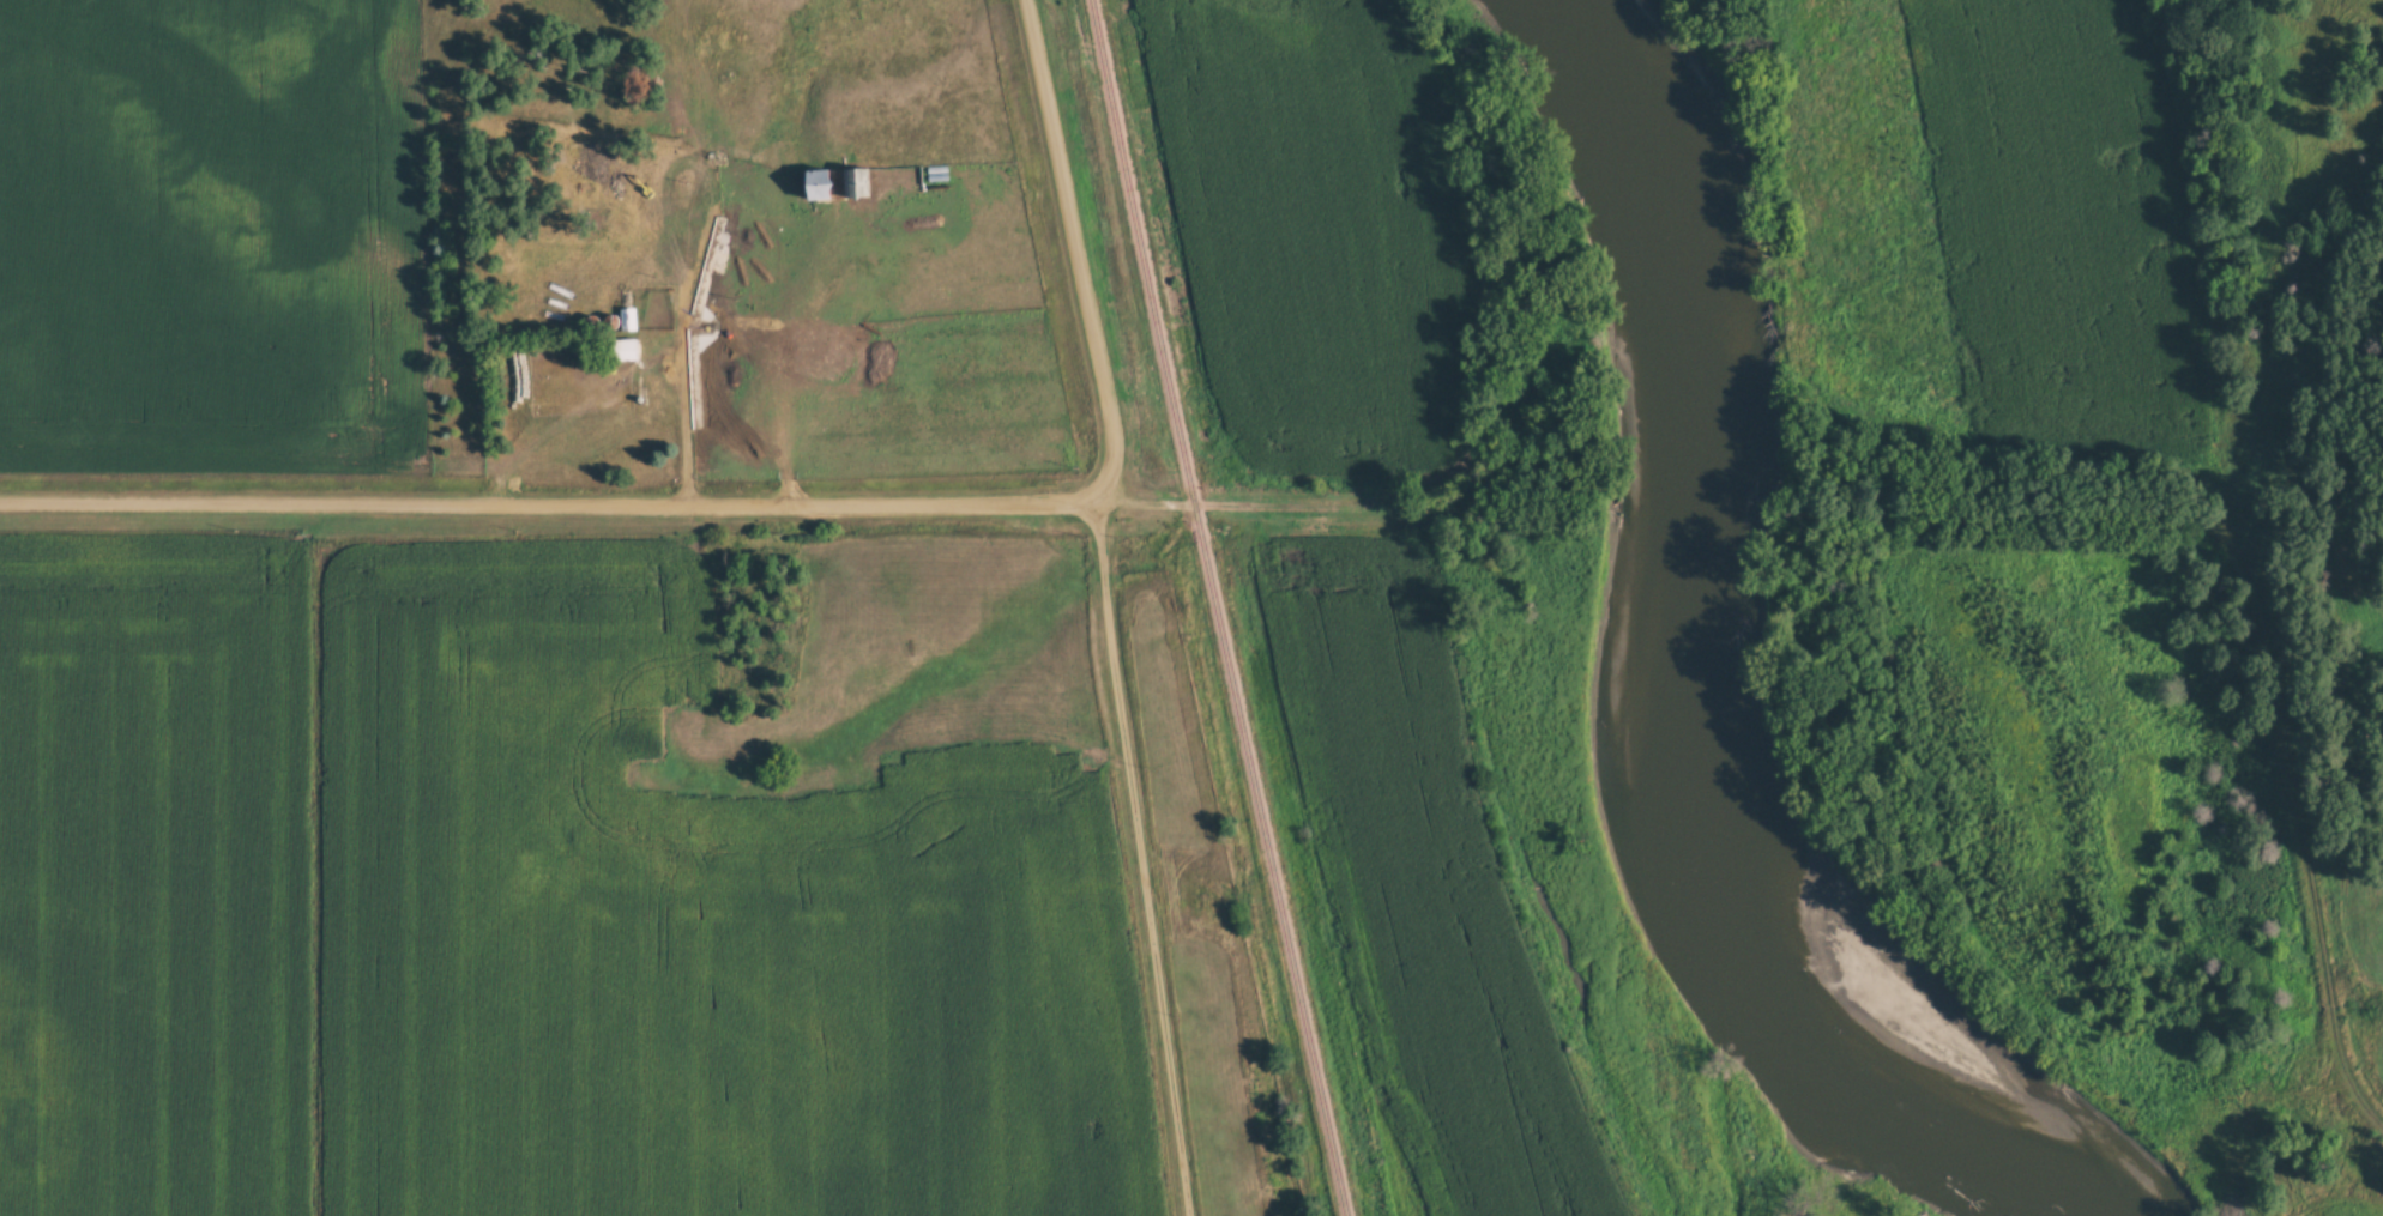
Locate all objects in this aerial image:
building: (856, 182)
building: (813, 186)
road: (1074, 248)
building: (627, 321)
road: (682, 322)
building: (629, 351)
road: (1249, 506)
road: (548, 508)
railway: (1215, 609)
river: (1678, 679)
road: (2307, 845)
road: (1138, 854)

